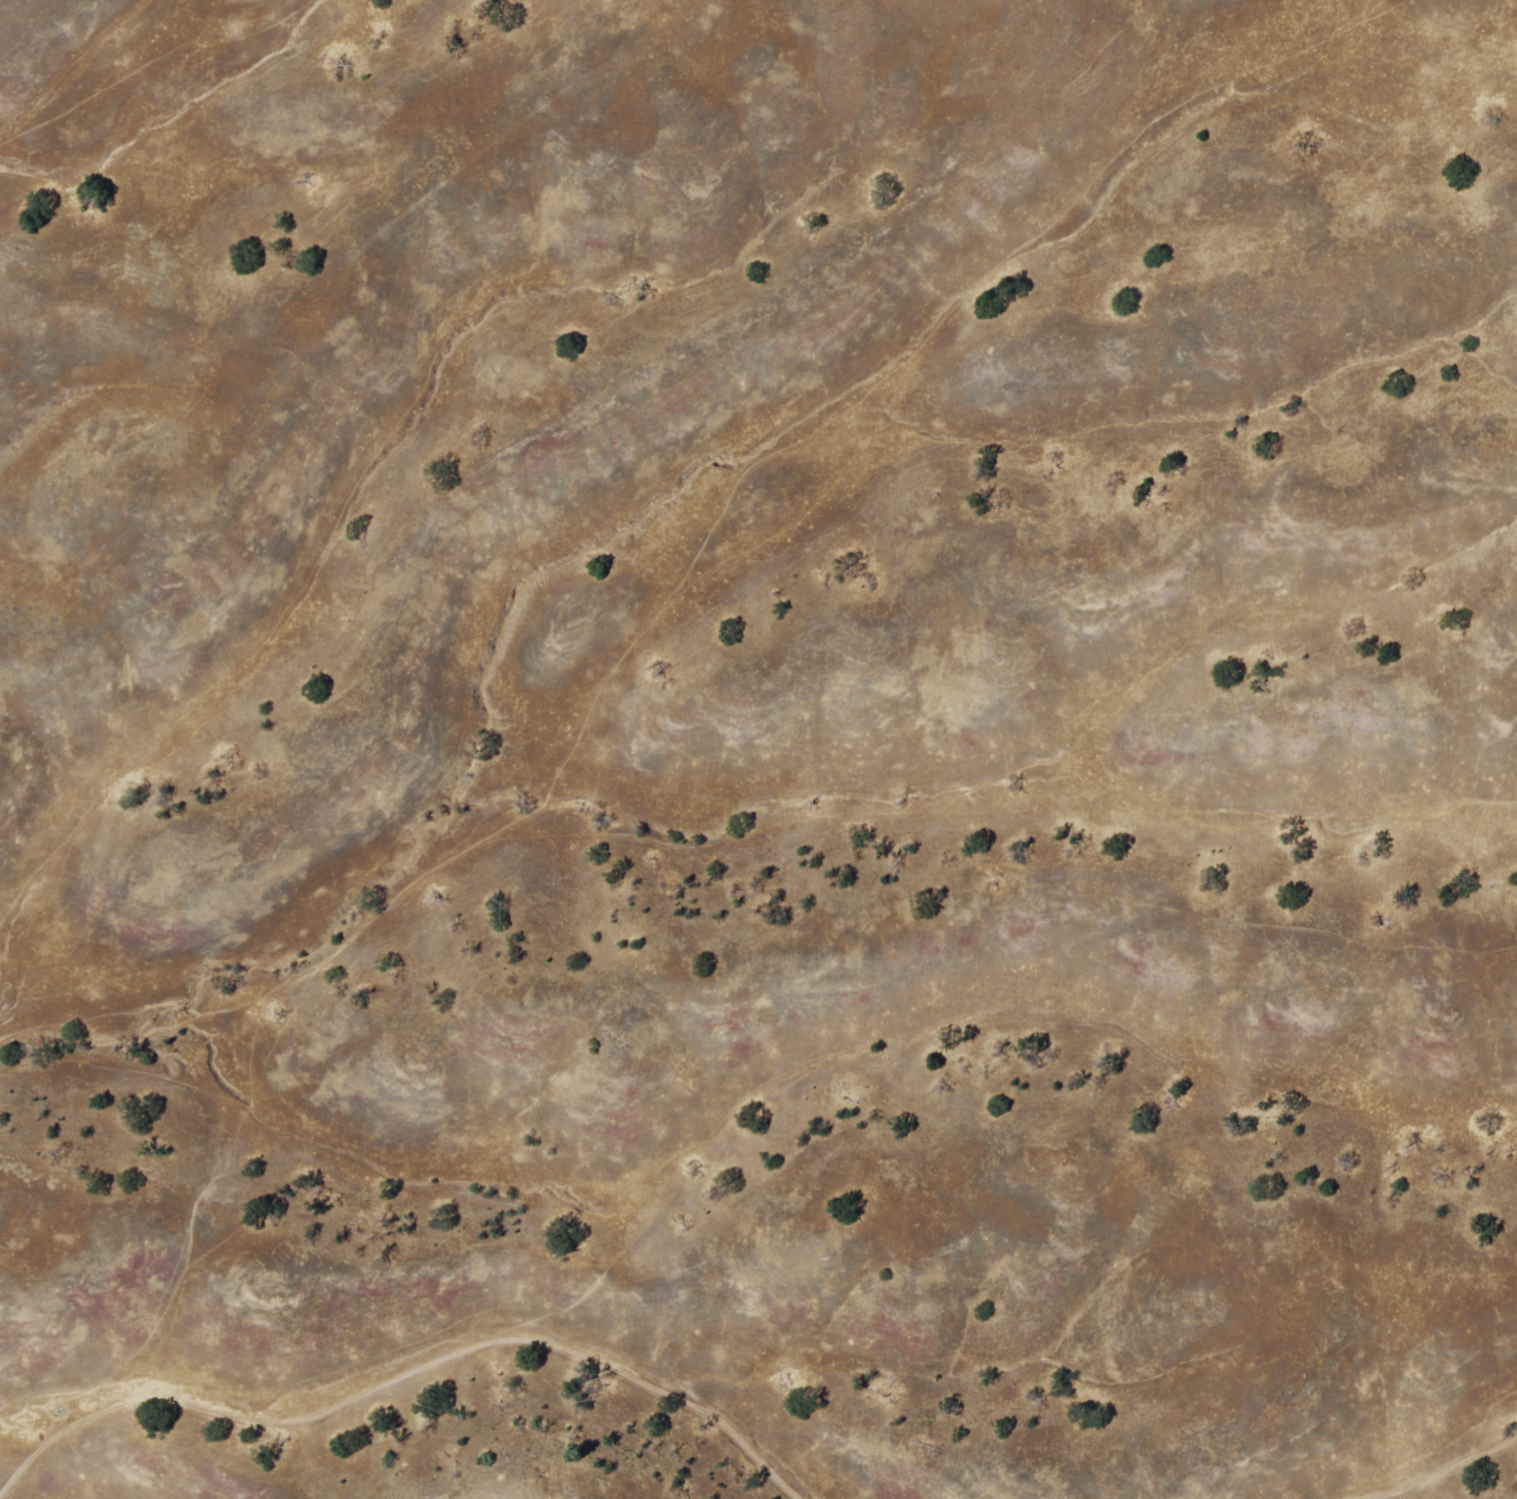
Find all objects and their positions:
road: (406, 1376)
road: (1446, 1467)

